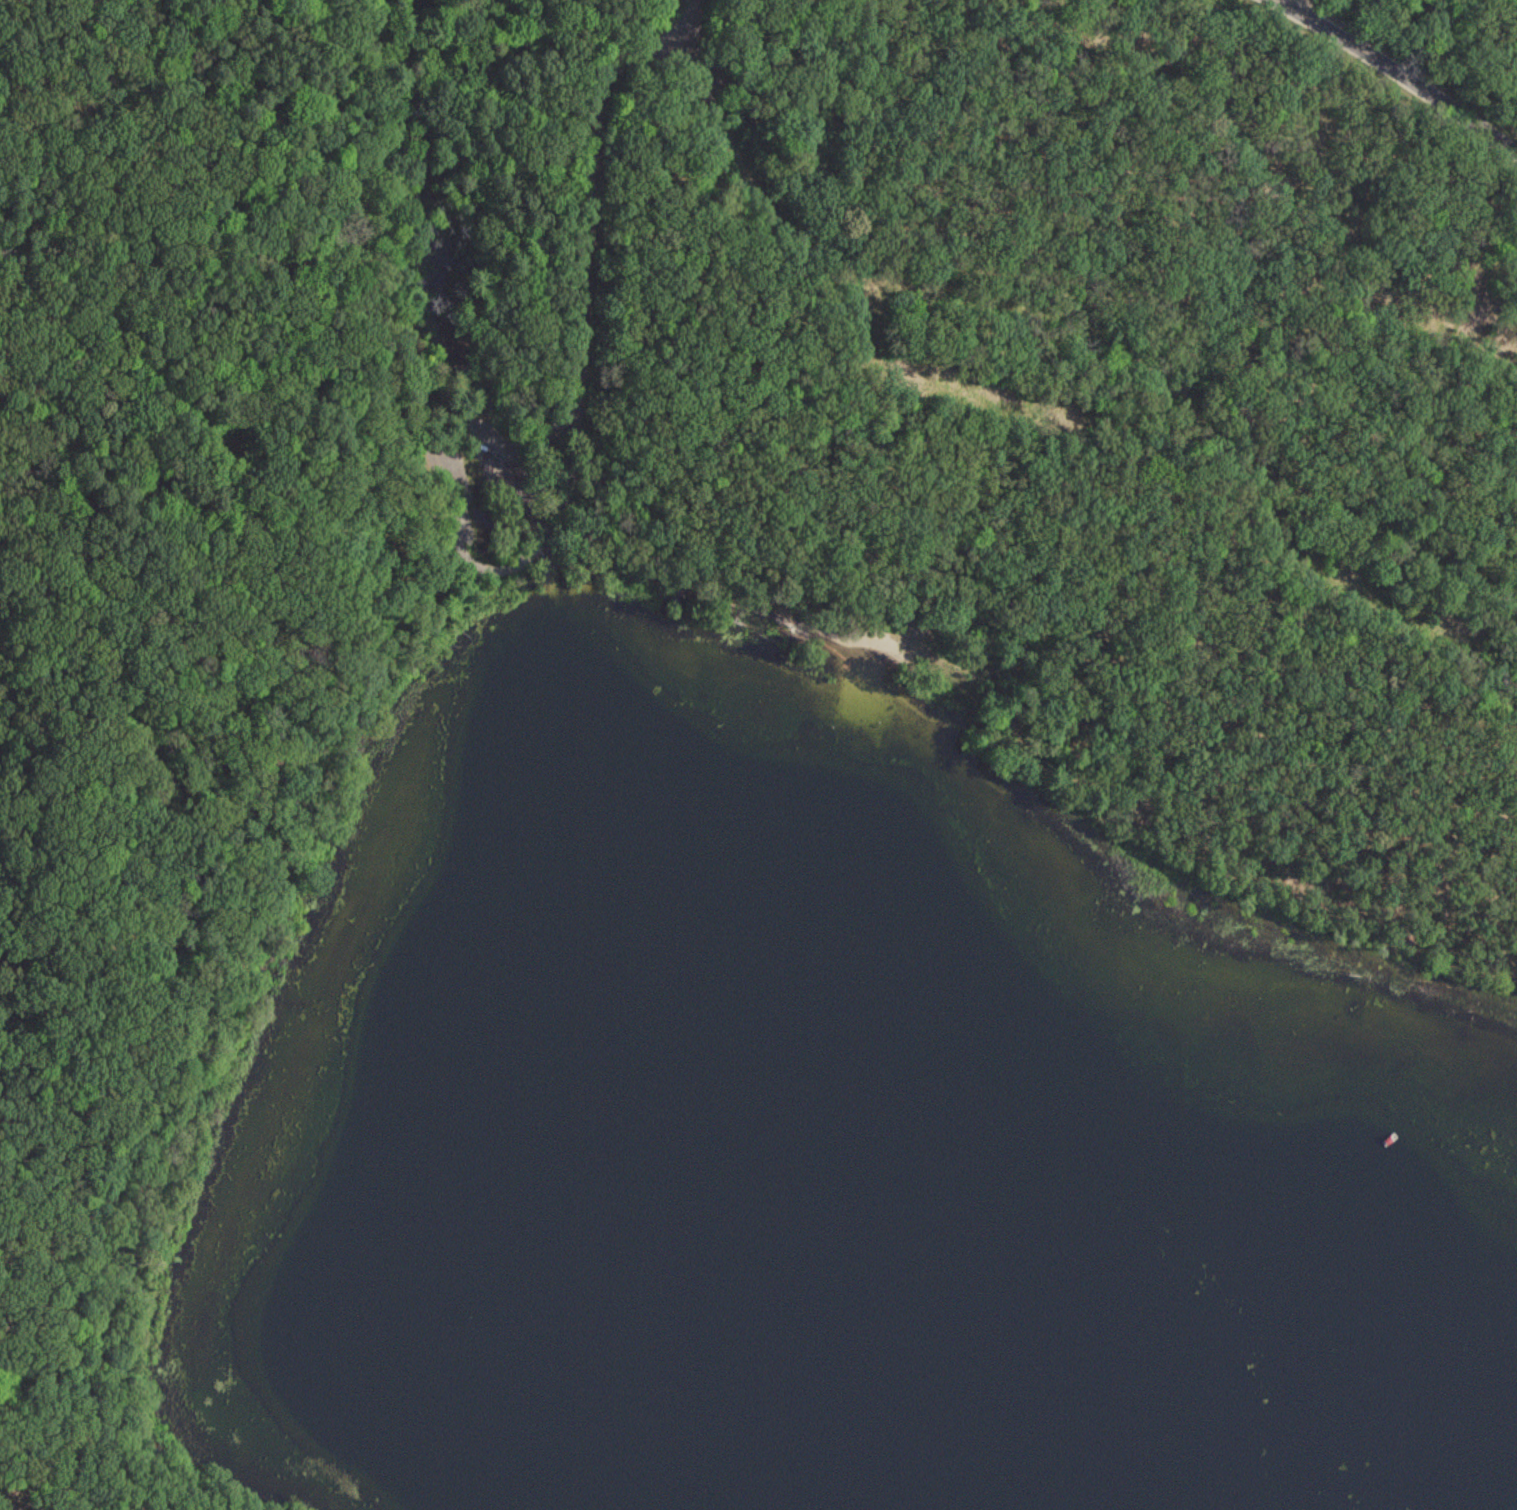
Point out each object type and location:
road: (654, 12)
road: (1421, 58)
parking lot: (717, 128)
road: (227, 202)
road: (579, 256)
road: (1137, 320)
parking lot: (479, 471)
road: (541, 565)
road: (678, 592)
road: (1182, 669)

